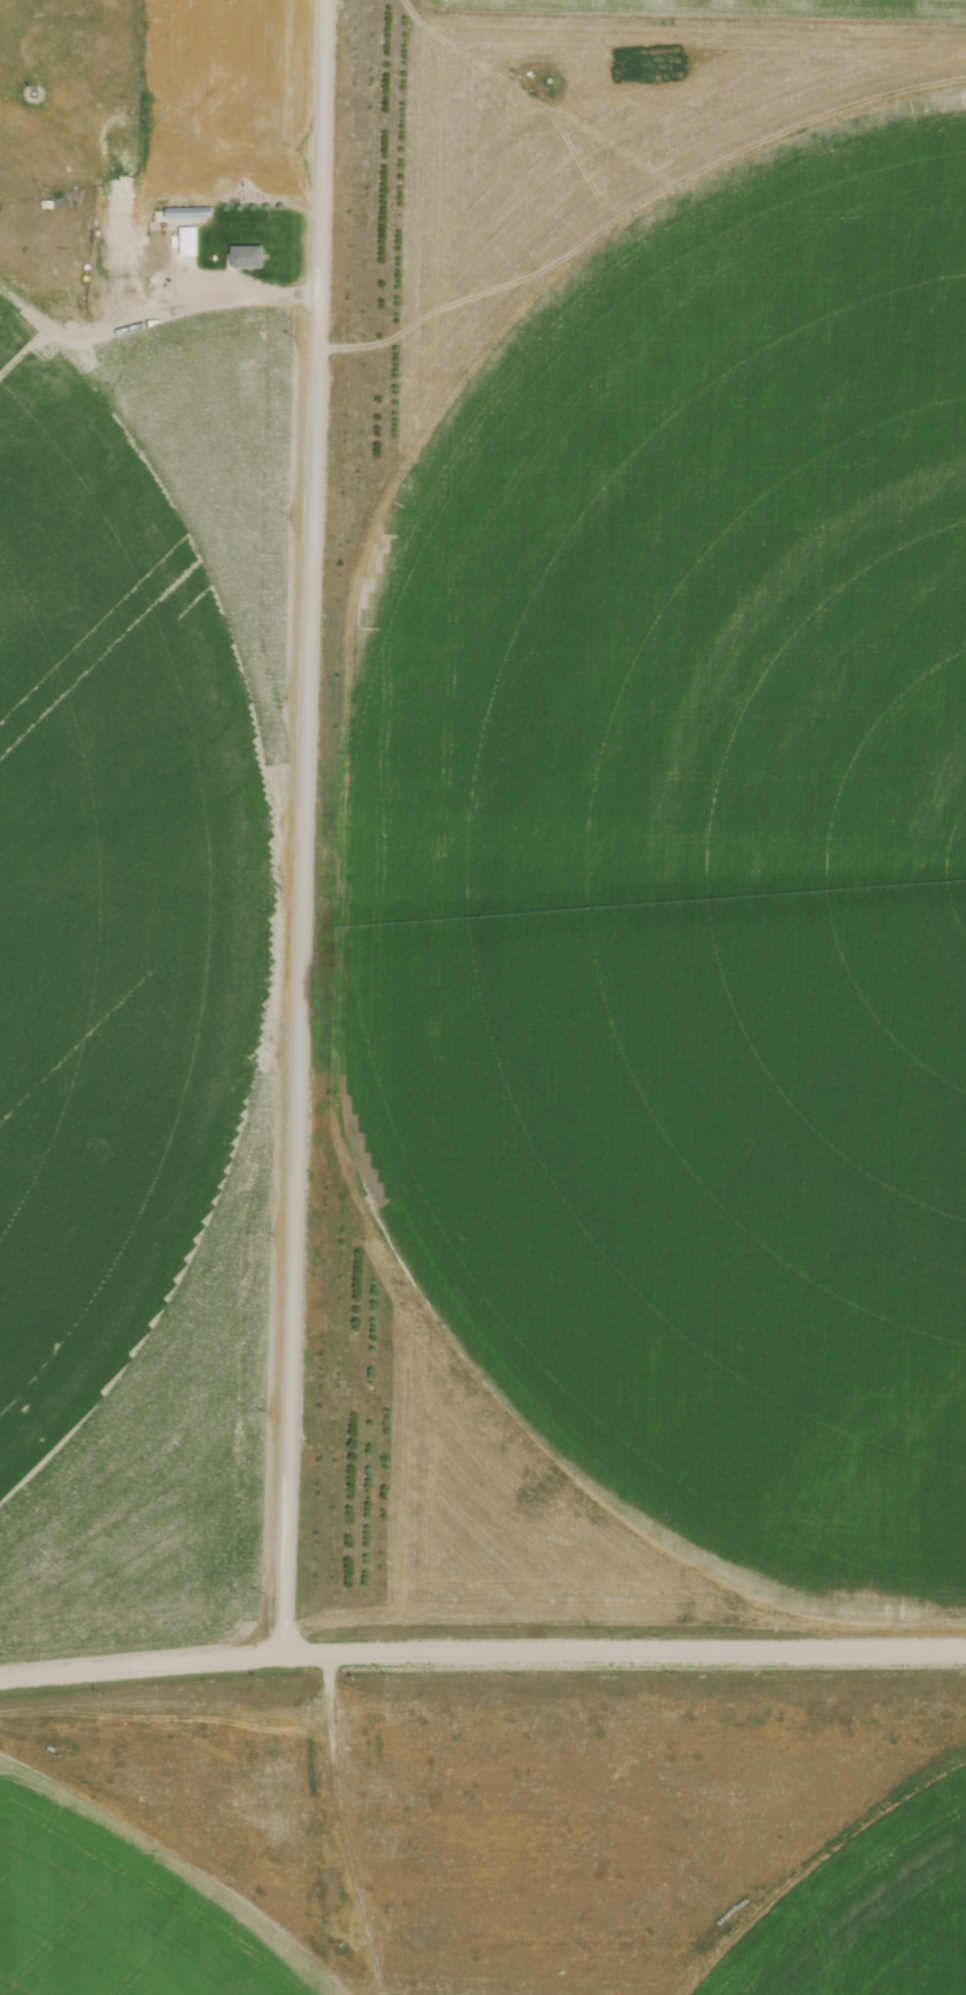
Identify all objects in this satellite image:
building: (168, 211)
building: (187, 241)
building: (247, 257)
road: (241, 292)
road: (304, 827)
road: (482, 1649)

